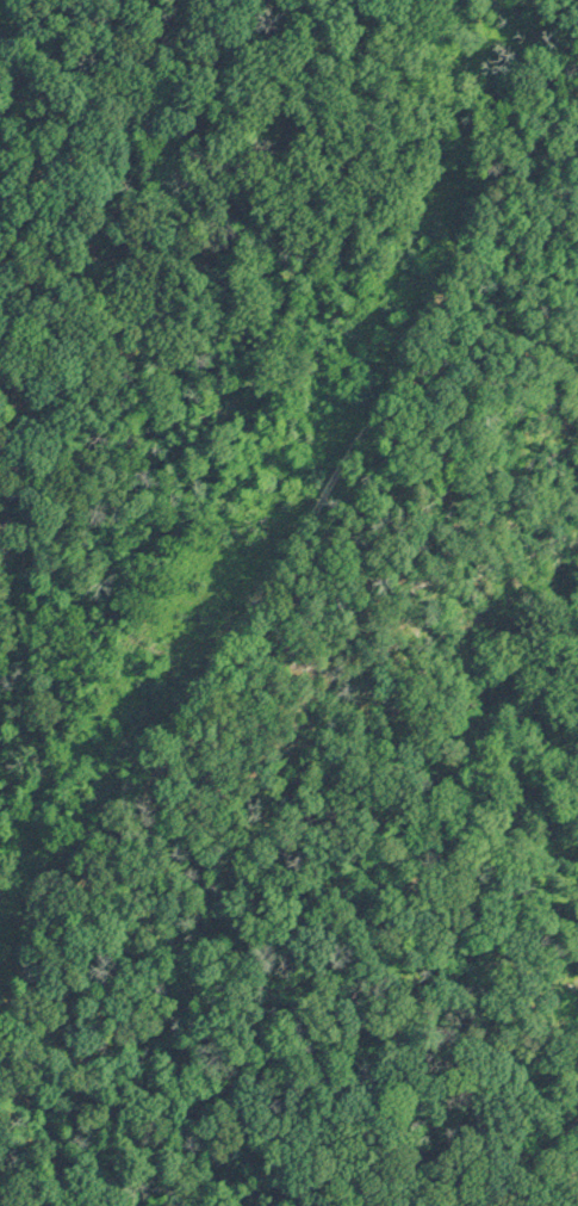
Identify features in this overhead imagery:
road: (282, 549)

